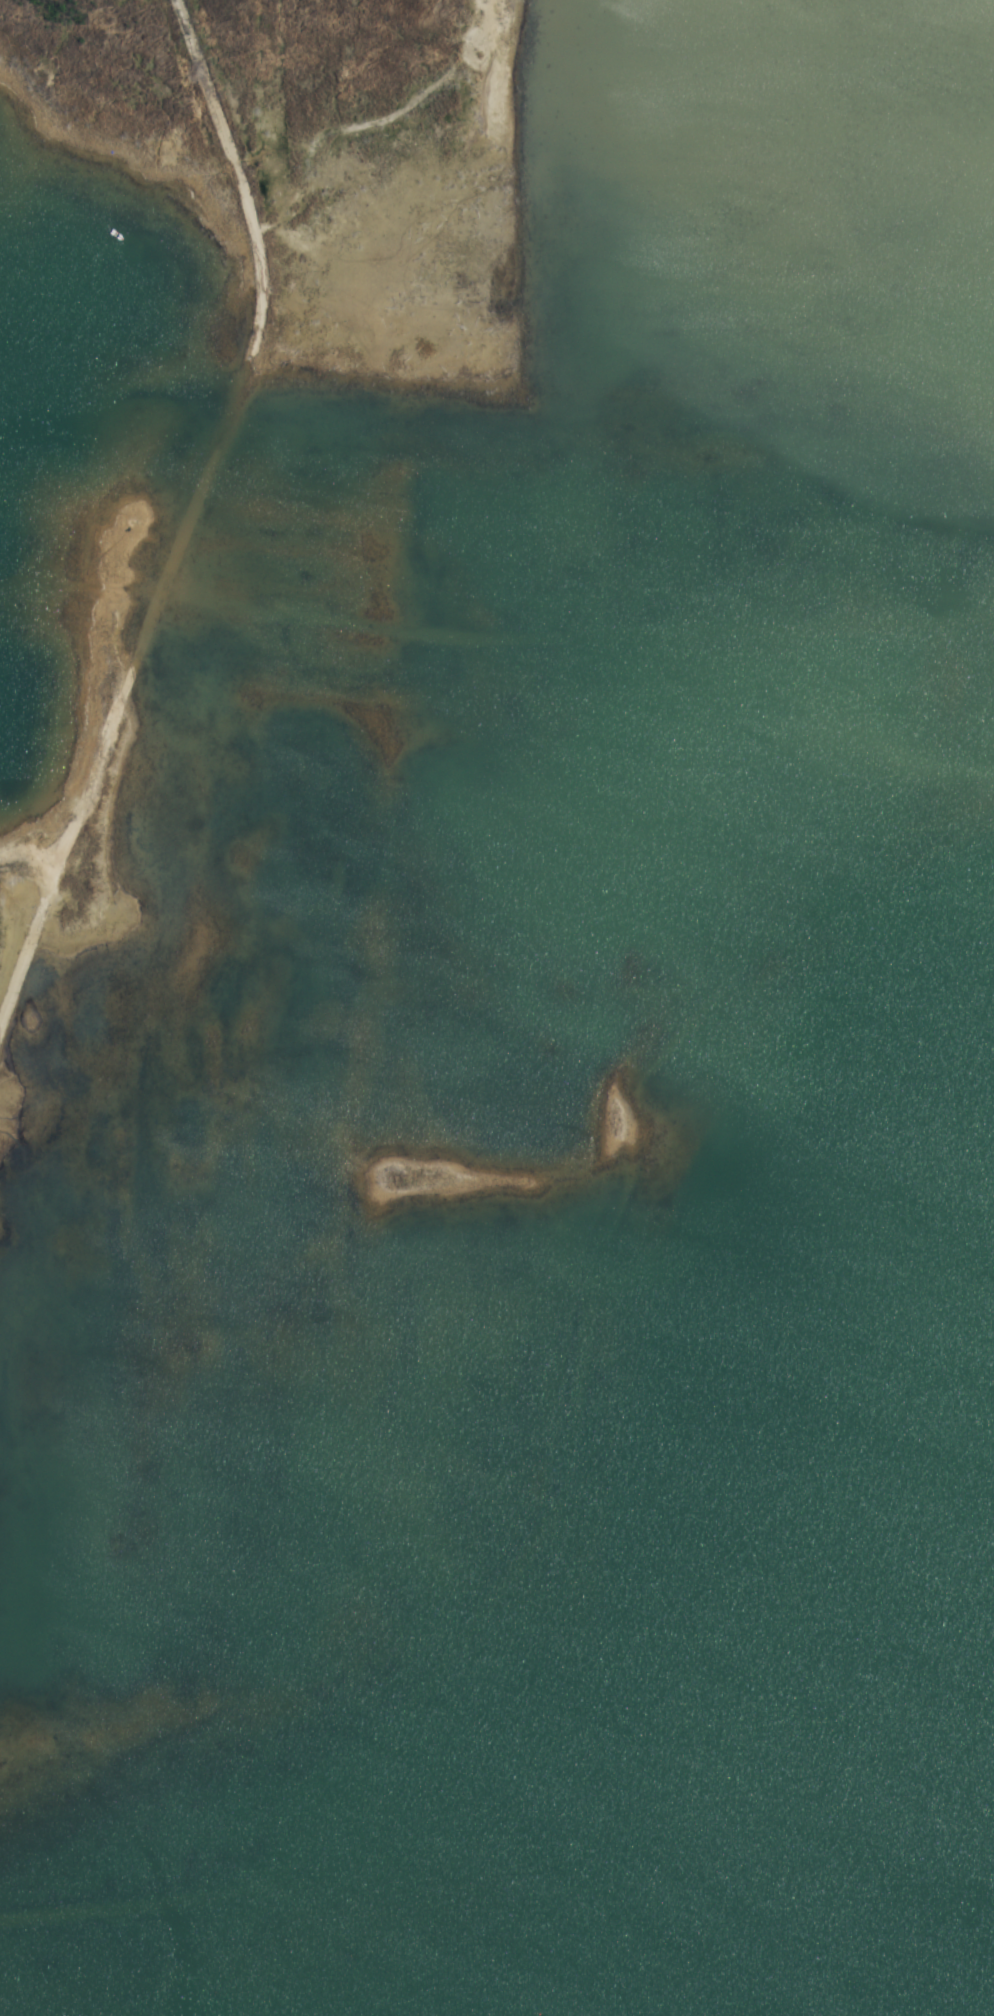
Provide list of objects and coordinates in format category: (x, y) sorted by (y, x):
road: (196, 539)

